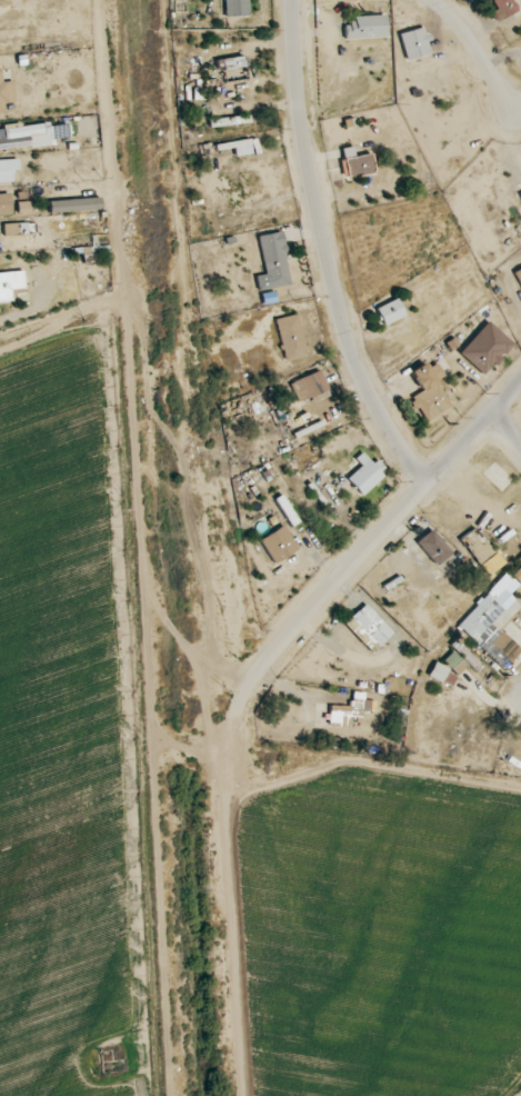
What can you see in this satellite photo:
building: (236, 8)
building: (500, 9)
building: (365, 27)
building: (414, 43)
road: (475, 50)
building: (6, 94)
building: (24, 136)
building: (238, 147)
building: (355, 163)
building: (8, 169)
building: (519, 193)
building: (4, 203)
building: (73, 206)
building: (18, 235)
road: (327, 252)
building: (272, 262)
building: (518, 275)
building: (10, 283)
building: (389, 312)
building: (290, 337)
building: (484, 348)
building: (310, 385)
building: (428, 392)
road: (508, 428)
building: (364, 477)
building: (279, 544)
building: (433, 547)
road: (367, 548)
building: (480, 551)
building: (493, 618)
building: (460, 659)
building: (442, 675)

